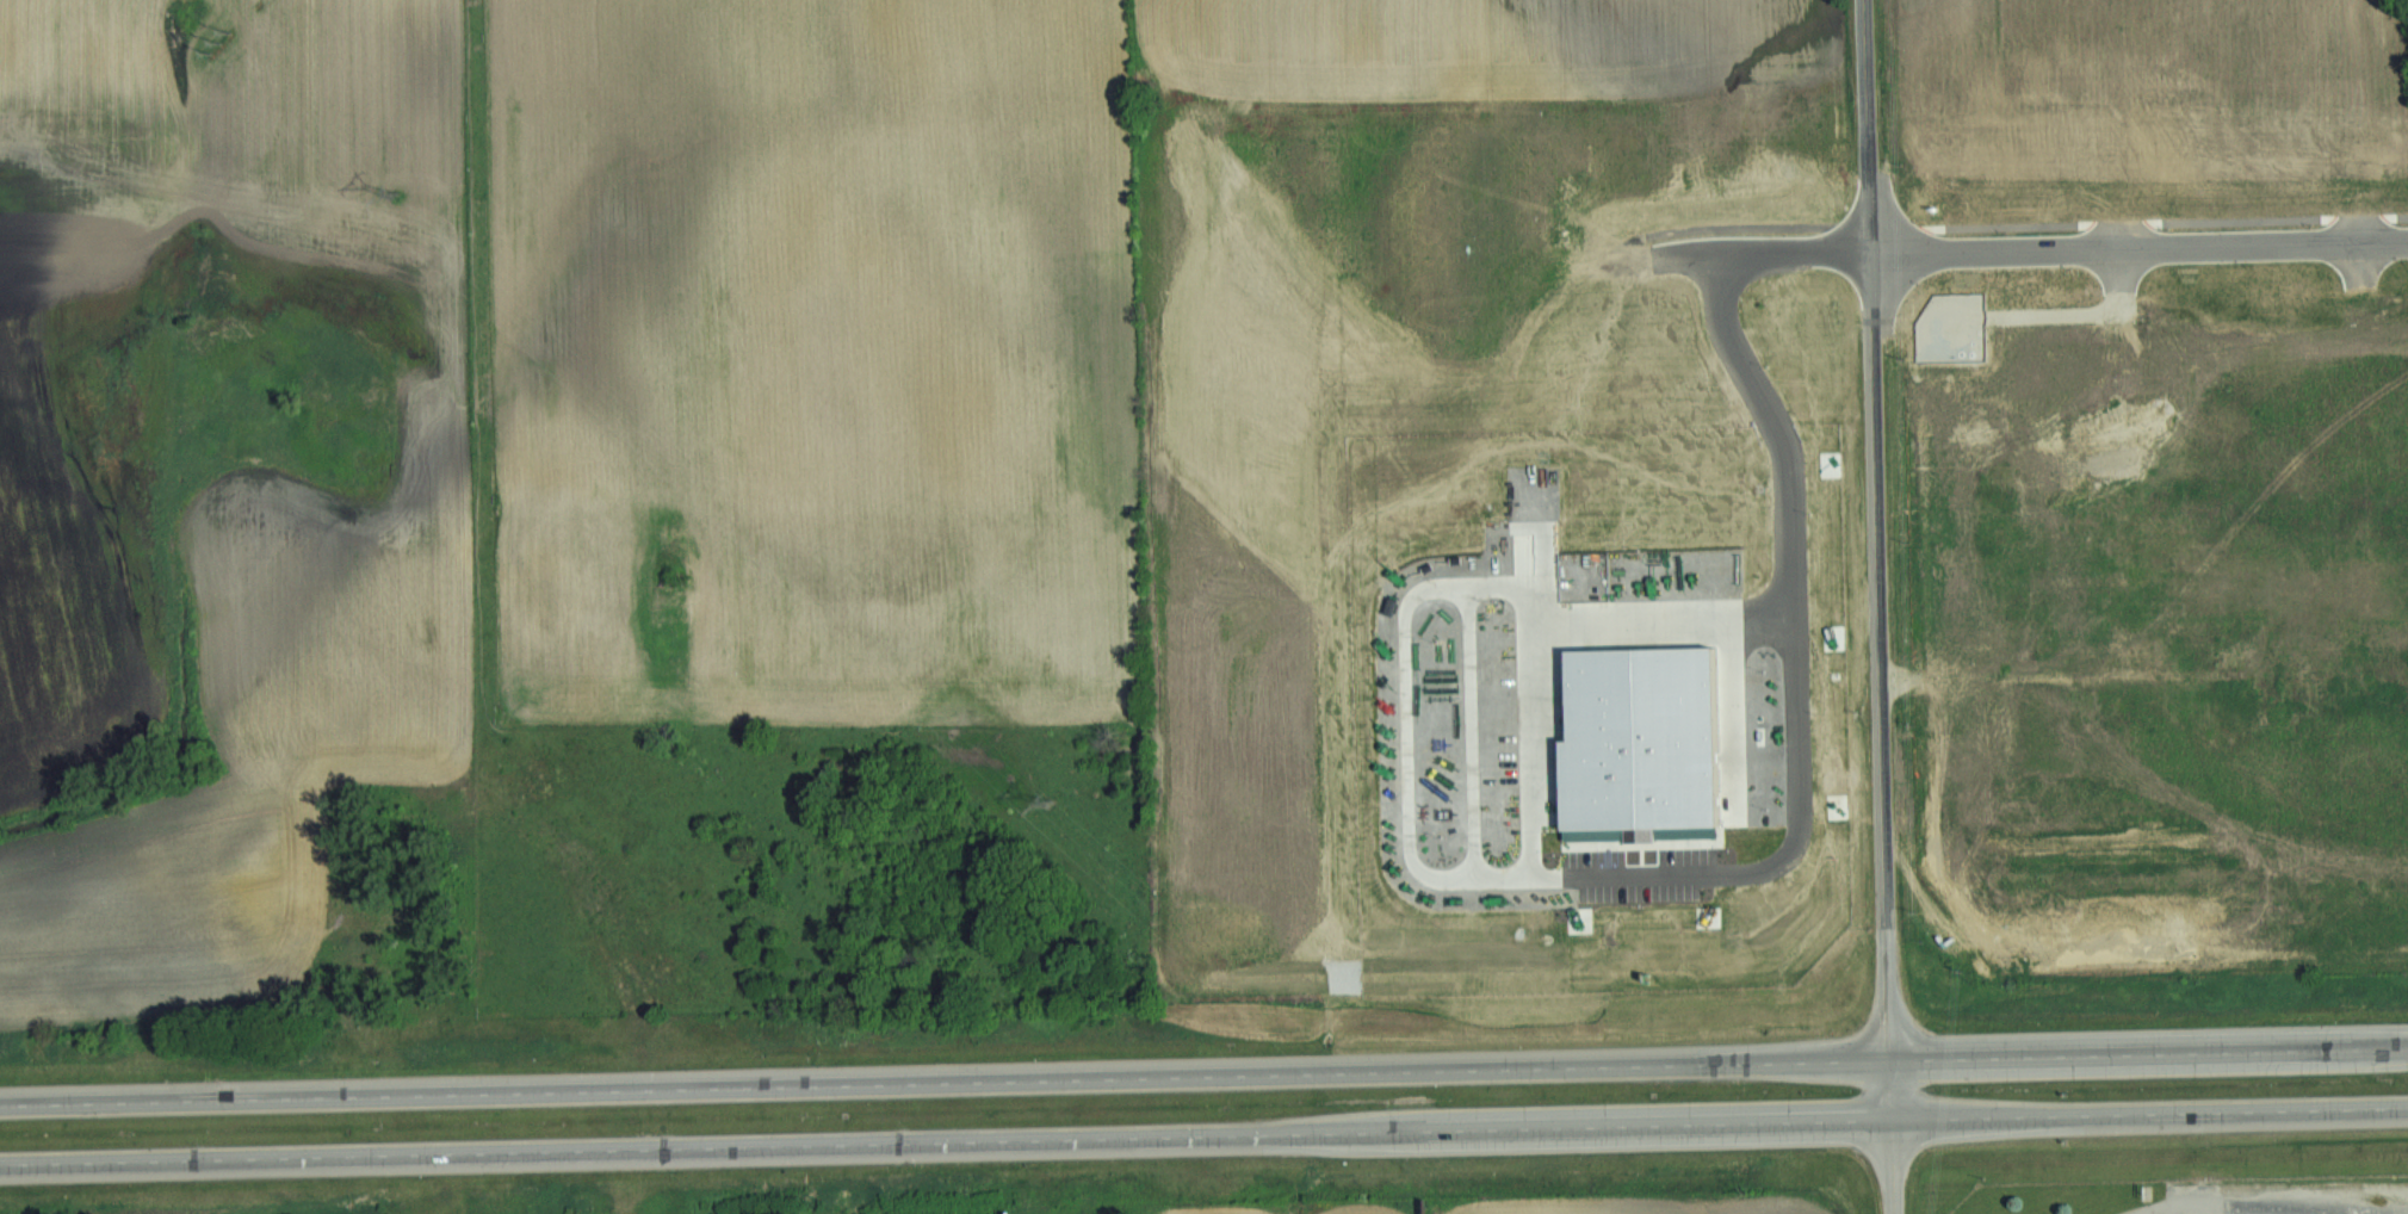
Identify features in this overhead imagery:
power tower: (219, 41)
power tower: (392, 193)
road: (2138, 243)
road: (1876, 606)
power tower: (1052, 809)
road: (1203, 1073)
road: (2147, 1109)
road: (943, 1139)
building: (1432, 1206)

